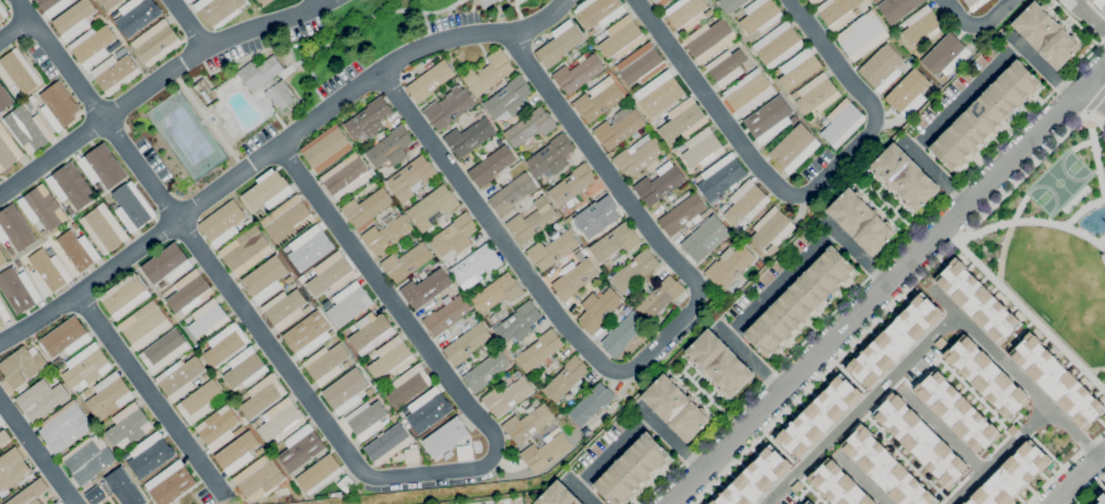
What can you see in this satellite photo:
building: (190, 0)
building: (505, 0)
building: (877, 0)
building: (263, 1)
building: (461, 1)
building: (813, 1)
building: (487, 2)
building: (661, 2)
building: (109, 3)
building: (974, 3)
building: (730, 4)
building: (51, 5)
building: (1100, 5)
building: (896, 8)
building: (218, 10)
building: (2, 12)
building: (597, 12)
building: (837, 12)
building: (687, 13)
building: (113, 14)
building: (137, 15)
building: (760, 15)
road: (1086, 16)
building: (74, 19)
road: (1075, 21)
road: (188, 24)
road: (976, 24)
building: (921, 25)
road: (15, 30)
building: (592, 32)
building: (862, 35)
building: (1045, 35)
building: (620, 37)
building: (709, 39)
building: (156, 43)
building: (741, 43)
building: (559, 44)
building: (778, 45)
building: (92, 46)
building: (114, 46)
building: (120, 51)
building: (945, 56)
building: (641, 65)
building: (726, 67)
road: (1042, 67)
building: (882, 68)
building: (799, 69)
building: (18, 71)
building: (488, 72)
building: (115, 73)
building: (260, 73)
building: (578, 73)
road: (155, 81)
building: (429, 81)
building: (225, 83)
building: (196, 87)
road: (1098, 87)
building: (748, 92)
building: (907, 93)
building: (280, 94)
building: (660, 94)
building: (815, 94)
building: (15, 95)
building: (205, 96)
building: (4, 98)
building: (509, 98)
road: (1095, 98)
building: (36, 99)
building: (598, 99)
road: (970, 101)
building: (30, 105)
building: (58, 106)
building: (449, 107)
road: (1087, 113)
building: (984, 115)
building: (212, 118)
building: (369, 118)
building: (768, 119)
road: (207, 120)
building: (682, 120)
building: (825, 121)
building: (841, 122)
building: (530, 126)
building: (28, 129)
building: (618, 129)
park: (186, 134)
building: (469, 137)
building: (389, 148)
building: (681, 148)
building: (702, 148)
building: (794, 148)
building: (8, 149)
road: (272, 149)
building: (326, 149)
building: (638, 155)
building: (550, 157)
road: (1096, 157)
building: (491, 165)
building: (102, 168)
road: (937, 173)
building: (346, 177)
building: (721, 177)
building: (904, 177)
building: (411, 178)
park: (1058, 181)
building: (659, 184)
building: (571, 186)
building: (71, 188)
building: (267, 190)
building: (511, 194)
road: (803, 194)
building: (745, 202)
building: (432, 206)
road: (893, 207)
building: (131, 208)
building: (367, 208)
building: (42, 209)
road: (1083, 209)
building: (263, 210)
building: (682, 212)
building: (596, 216)
building: (287, 220)
building: (532, 220)
building: (860, 221)
road: (1032, 221)
building: (224, 222)
building: (74, 225)
building: (13, 228)
building: (104, 228)
building: (771, 228)
building: (386, 235)
building: (453, 236)
building: (706, 238)
park: (1052, 241)
building: (615, 243)
building: (585, 244)
building: (310, 248)
building: (78, 249)
building: (284, 249)
building: (771, 249)
building: (245, 250)
building: (551, 250)
building: (50, 251)
building: (12, 253)
road: (859, 253)
building: (2, 258)
building: (406, 261)
building: (759, 263)
building: (19, 265)
building: (166, 266)
building: (475, 266)
building: (729, 266)
building: (635, 270)
road: (872, 270)
building: (49, 271)
building: (330, 274)
building: (303, 278)
building: (573, 278)
building: (265, 279)
road: (786, 284)
road: (887, 285)
building: (171, 289)
building: (426, 289)
building: (19, 290)
building: (188, 292)
building: (497, 293)
building: (125, 296)
building: (661, 296)
road: (895, 298)
building: (799, 301)
building: (977, 301)
building: (327, 304)
building: (349, 304)
building: (284, 308)
building: (598, 309)
building: (3, 313)
building: (446, 314)
road: (1030, 315)
building: (188, 318)
building: (208, 318)
building: (490, 319)
building: (517, 323)
building: (144, 325)
building: (352, 327)
building: (371, 331)
building: (307, 333)
building: (623, 335)
building: (66, 337)
building: (894, 340)
building: (466, 343)
building: (224, 344)
building: (164, 350)
building: (200, 350)
building: (539, 350)
building: (391, 358)
road: (641, 359)
road: (753, 359)
building: (326, 363)
building: (719, 364)
building: (22, 365)
building: (344, 365)
building: (86, 366)
building: (244, 367)
building: (486, 371)
road: (1016, 374)
building: (206, 375)
building: (985, 376)
building: (179, 377)
building: (567, 379)
building: (199, 380)
road: (851, 380)
building: (1057, 382)
building: (409, 385)
building: (346, 390)
road: (970, 391)
road: (708, 392)
building: (88, 394)
building: (109, 396)
road: (151, 396)
building: (261, 396)
building: (508, 397)
building: (40, 399)
building: (201, 401)
building: (591, 403)
building: (675, 408)
road: (861, 409)
building: (405, 410)
building: (428, 410)
building: (955, 412)
building: (393, 417)
building: (818, 417)
building: (365, 419)
building: (280, 420)
building: (527, 423)
building: (65, 426)
building: (128, 426)
building: (219, 427)
road: (943, 431)
building: (2, 436)
building: (446, 436)
road: (673, 438)
building: (920, 441)
building: (387, 444)
road: (342, 446)
building: (301, 448)
road: (1043, 448)
road: (781, 450)
road: (37, 452)
building: (239, 452)
building: (464, 452)
building: (545, 453)
road: (617, 453)
building: (411, 454)
building: (150, 455)
road: (999, 455)
road: (905, 457)
building: (89, 458)
road: (1062, 465)
building: (12, 468)
building: (630, 469)
building: (885, 469)
building: (319, 474)
building: (1010, 476)
building: (259, 478)
building: (754, 479)
road: (862, 480)
road: (1079, 480)
building: (171, 483)
building: (347, 483)
building: (837, 484)
building: (114, 489)
road: (1087, 489)
road: (809, 490)
road: (584, 491)
building: (30, 493)
building: (339, 494)
building: (557, 495)
building: (1101, 500)
building: (810, 501)
road: (694, 503)

